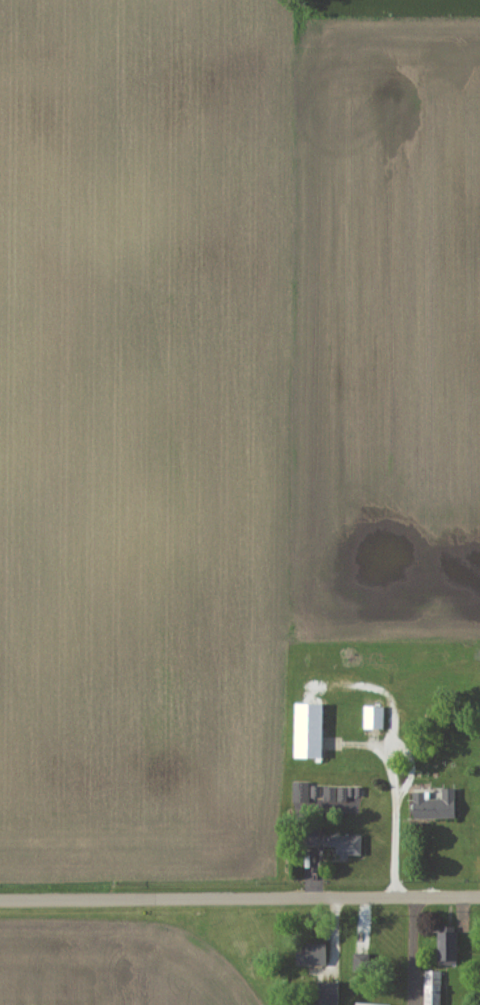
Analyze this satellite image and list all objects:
building: (375, 719)
building: (309, 733)
building: (302, 793)
building: (319, 794)
building: (336, 795)
building: (435, 807)
building: (334, 844)
road: (396, 847)
road: (239, 899)
building: (448, 945)
building: (311, 956)
building: (433, 988)
building: (328, 994)

